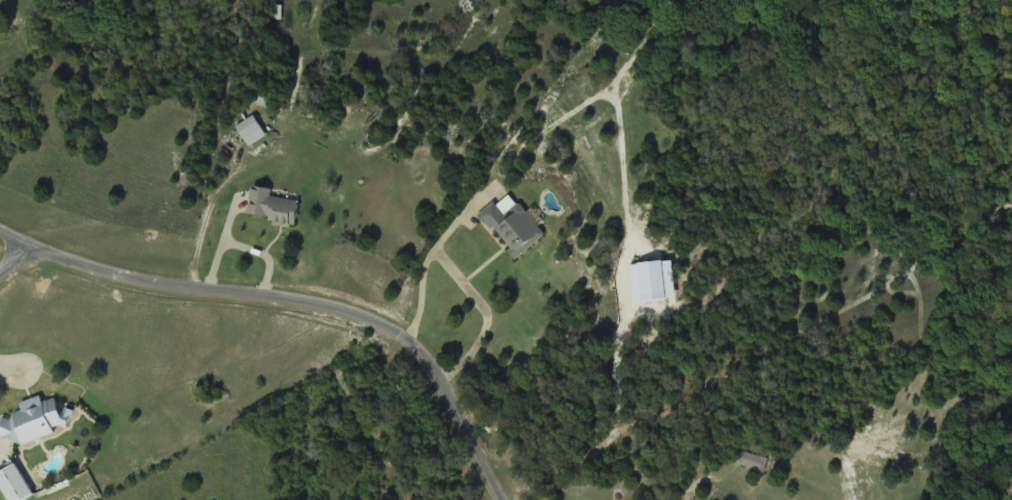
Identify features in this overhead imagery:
building: (277, 11)
building: (251, 126)
building: (275, 206)
building: (513, 225)
road: (21, 267)
road: (297, 296)
building: (37, 420)
building: (753, 460)
building: (16, 484)

